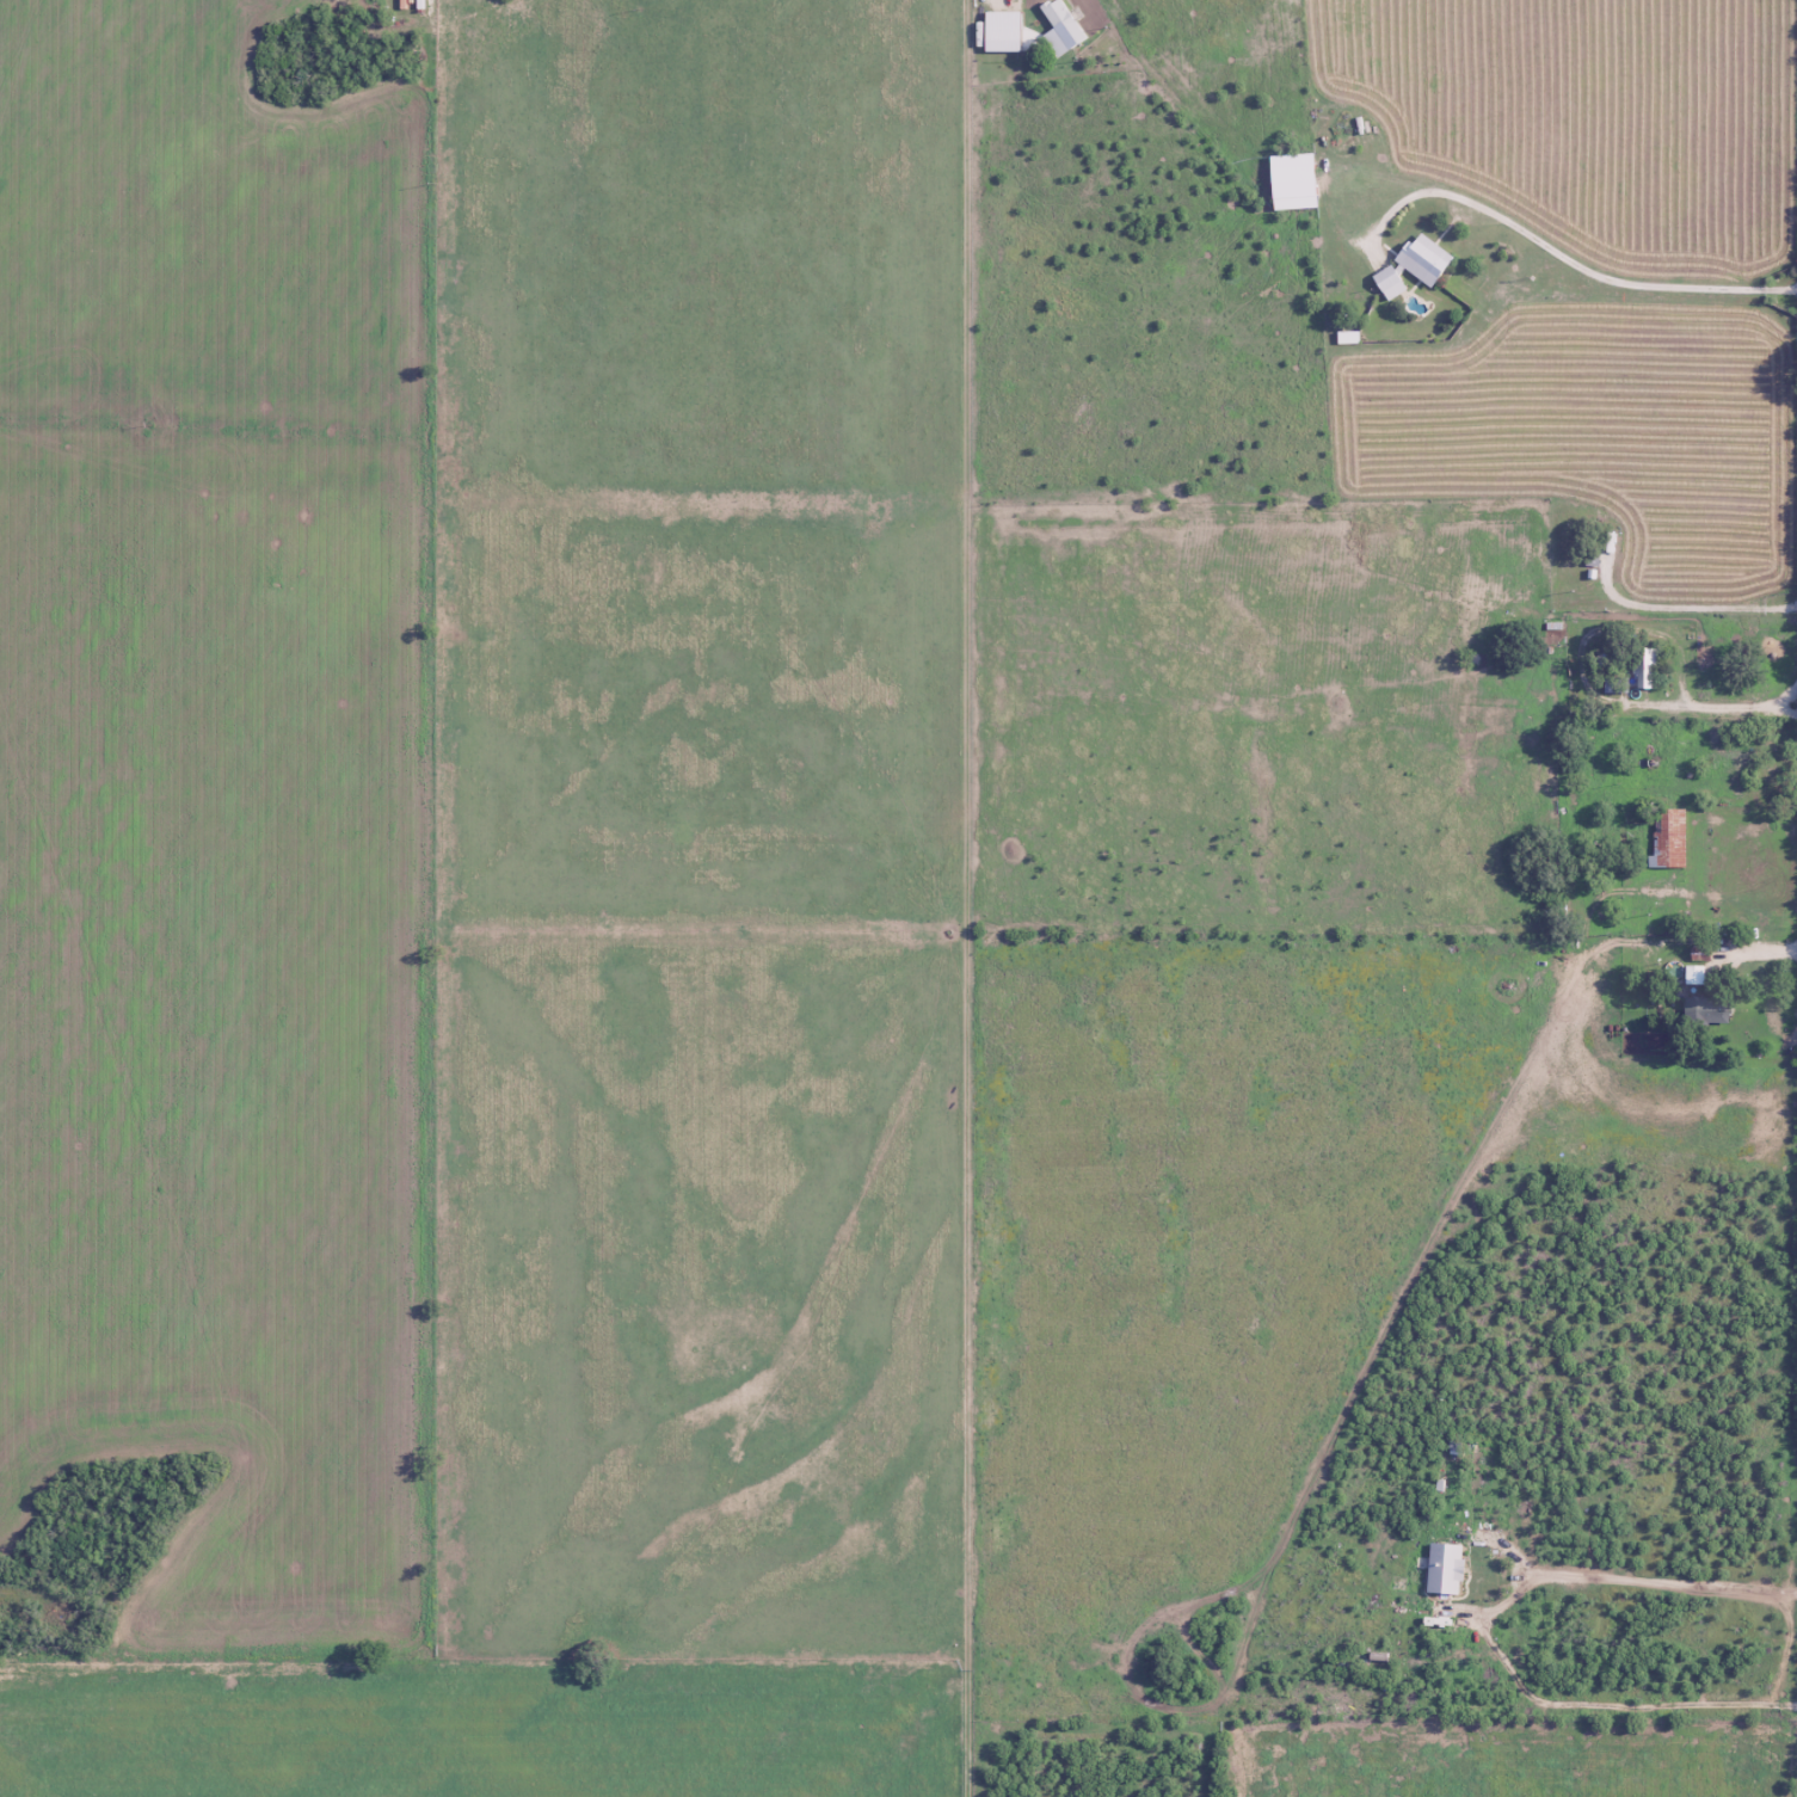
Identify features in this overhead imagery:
building: (1065, 25)
road: (353, 50)
building: (1299, 183)
road: (1561, 247)
building: (1428, 260)
building: (1392, 283)
road: (1693, 603)
building: (1643, 666)
road: (1710, 712)
building: (1668, 838)
road: (965, 898)
building: (1705, 1011)
building: (1441, 1569)
road: (1675, 1582)
road: (1605, 1704)

